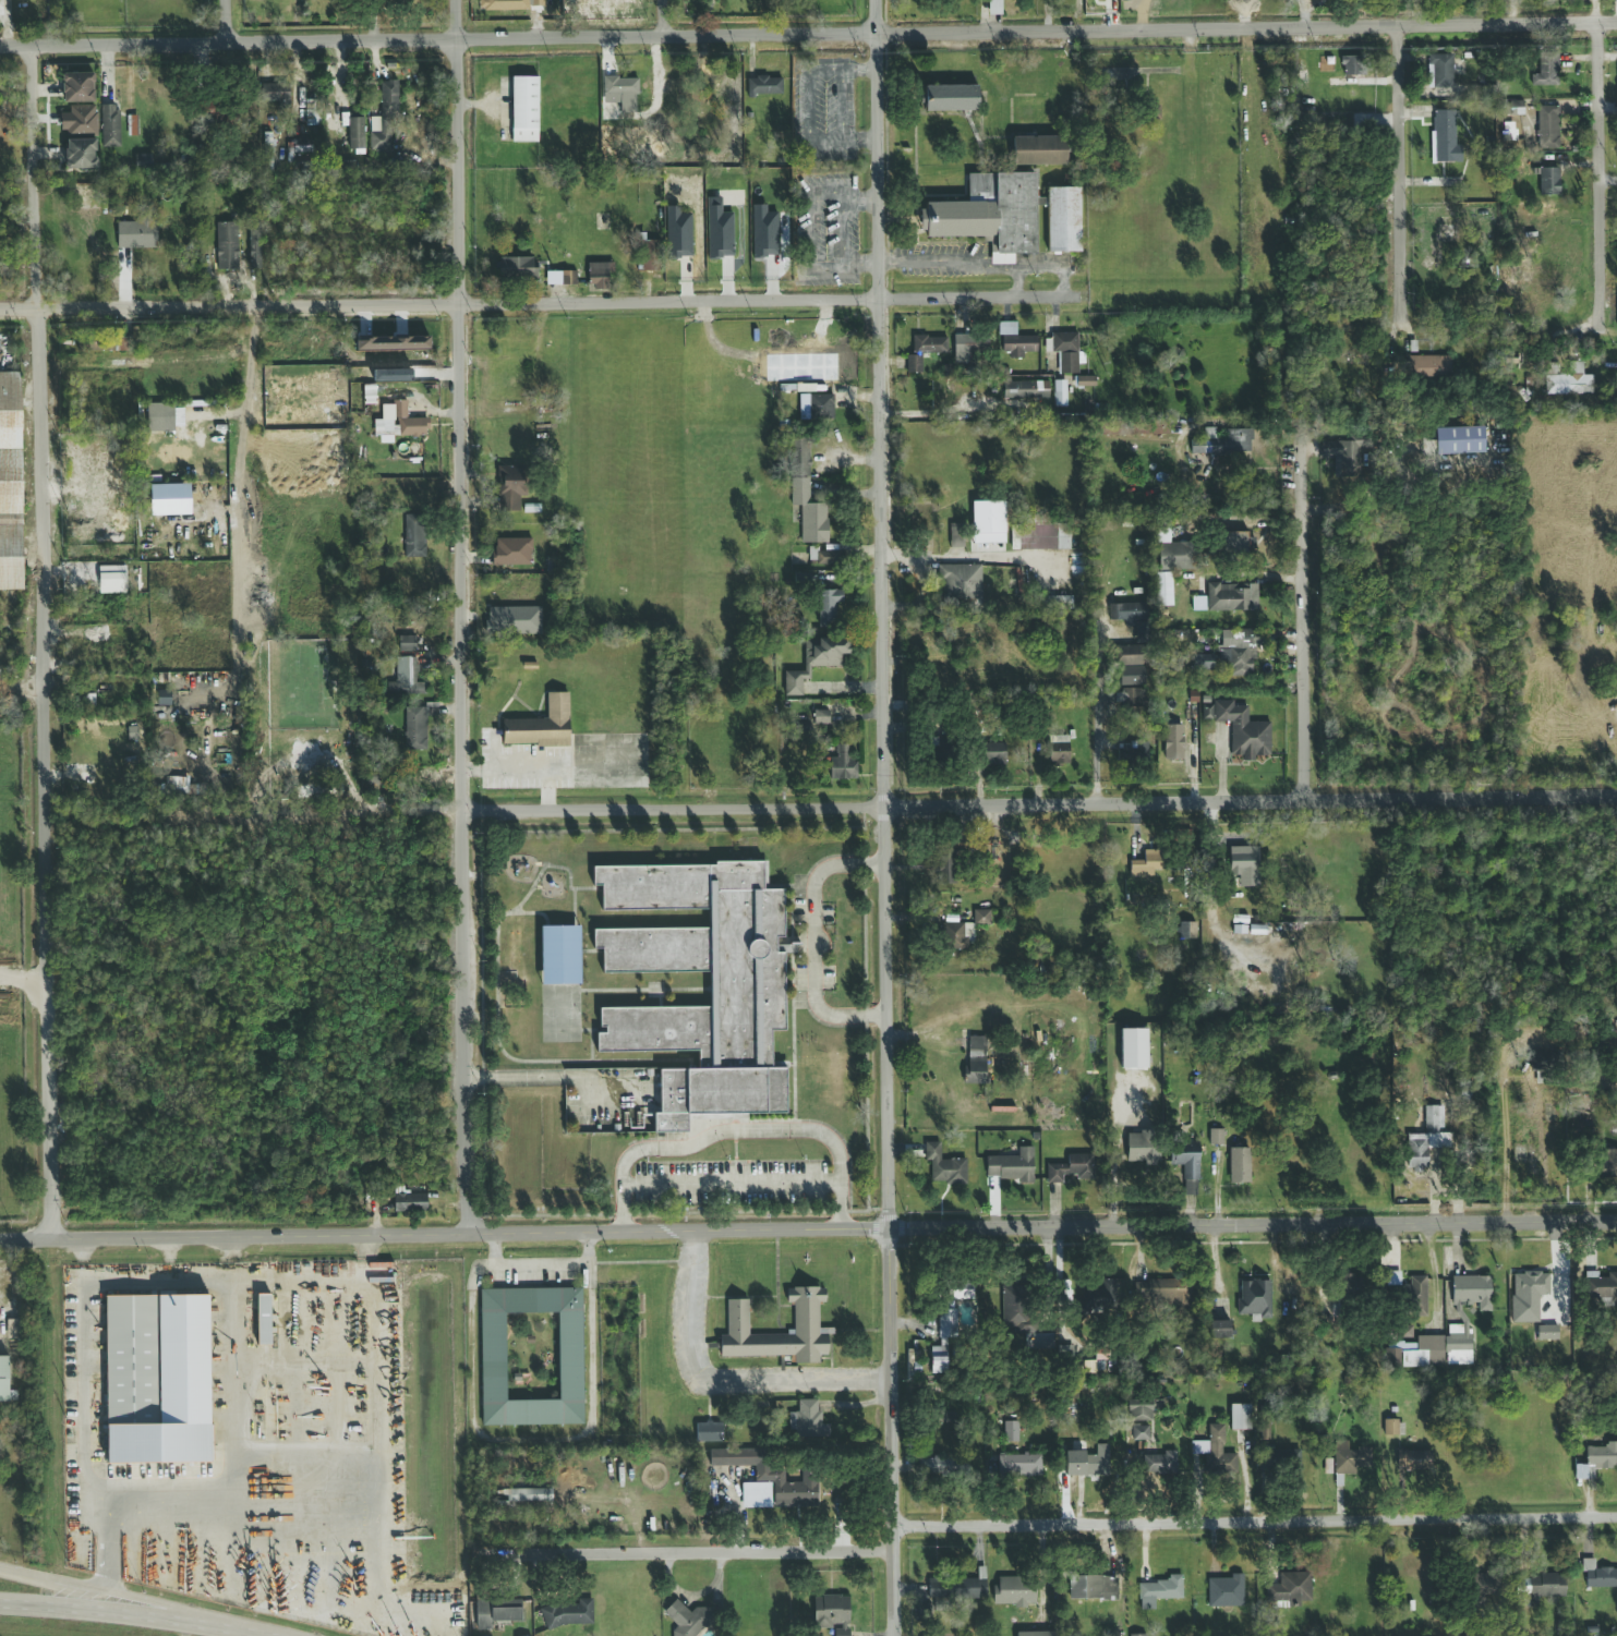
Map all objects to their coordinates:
building: (538, 2)
building: (503, 4)
building: (994, 7)
road: (666, 20)
road: (227, 24)
road: (808, 36)
building: (1350, 64)
building: (1545, 70)
building: (1440, 72)
building: (764, 85)
building: (668, 86)
building: (58, 87)
building: (77, 87)
building: (714, 88)
building: (620, 89)
building: (274, 93)
building: (949, 98)
building: (388, 99)
building: (524, 110)
building: (311, 113)
building: (145, 124)
building: (109, 126)
building: (1547, 128)
building: (355, 133)
building: (1445, 136)
building: (299, 147)
building: (267, 150)
building: (1037, 150)
building: (81, 154)
building: (207, 154)
building: (143, 161)
building: (205, 172)
building: (1548, 181)
road: (38, 183)
road: (1600, 191)
road: (1401, 204)
building: (988, 214)
building: (1062, 220)
building: (138, 231)
building: (254, 243)
building: (226, 246)
building: (648, 256)
road: (987, 262)
building: (517, 269)
building: (598, 275)
building: (560, 279)
road: (1016, 280)
road: (543, 306)
road: (1509, 334)
building: (504, 339)
building: (393, 342)
building: (1018, 343)
building: (102, 344)
building: (974, 346)
building: (924, 350)
building: (1065, 351)
building: (384, 353)
building: (1431, 367)
building: (1568, 379)
building: (1086, 381)
building: (363, 389)
building: (1026, 389)
building: (1059, 392)
building: (816, 408)
road: (927, 412)
building: (160, 417)
building: (407, 422)
building: (1459, 440)
building: (1223, 441)
building: (1344, 457)
building: (1208, 460)
road: (1303, 475)
building: (511, 481)
building: (11, 482)
road: (242, 484)
building: (169, 499)
building: (1198, 504)
building: (809, 507)
building: (988, 526)
building: (414, 533)
building: (1034, 535)
building: (957, 542)
building: (1232, 543)
building: (512, 552)
road: (905, 556)
road: (1003, 557)
building: (1190, 560)
building: (112, 580)
building: (958, 582)
building: (1163, 590)
building: (1234, 597)
building: (1194, 604)
building: (828, 606)
building: (1126, 611)
road: (464, 615)
building: (1571, 631)
building: (407, 643)
building: (1241, 653)
building: (1129, 656)
building: (817, 661)
building: (1202, 662)
road: (1305, 668)
building: (1132, 676)
building: (405, 677)
building: (518, 677)
building: (1134, 698)
building: (820, 717)
road: (1097, 718)
building: (927, 719)
building: (414, 728)
building: (1241, 729)
building: (535, 732)
building: (1173, 742)
building: (925, 743)
building: (1059, 751)
building: (1134, 752)
building: (990, 753)
building: (843, 763)
road: (44, 775)
road: (831, 809)
road: (882, 817)
building: (536, 849)
building: (1244, 862)
building: (1151, 863)
building: (948, 867)
building: (981, 918)
building: (1187, 931)
building: (954, 936)
road: (813, 940)
building: (560, 956)
road: (23, 983)
building: (747, 992)
building: (1133, 1050)
building: (977, 1061)
building: (1546, 1061)
road: (553, 1079)
building: (1586, 1117)
road: (735, 1130)
building: (1216, 1137)
building: (1426, 1140)
road: (1504, 1144)
building: (1143, 1148)
building: (854, 1162)
building: (1186, 1164)
building: (1609, 1164)
building: (943, 1165)
building: (1240, 1165)
building: (1011, 1166)
building: (1071, 1168)
road: (731, 1181)
building: (410, 1202)
road: (808, 1228)
road: (540, 1265)
building: (1392, 1278)
building: (1471, 1289)
building: (1347, 1293)
building: (1528, 1295)
building: (1100, 1296)
building: (1166, 1296)
building: (1413, 1297)
building: (1254, 1299)
building: (1019, 1309)
building: (805, 1318)
building: (949, 1318)
building: (264, 1320)
building: (12, 1329)
building: (1218, 1330)
building: (1405, 1332)
building: (1547, 1333)
building: (1460, 1348)
building: (1066, 1350)
building: (531, 1356)
building: (132, 1360)
building: (1088, 1367)
road: (720, 1379)
building: (4, 1380)
building: (1139, 1410)
building: (807, 1414)
building: (1240, 1418)
road: (377, 1420)
building: (1392, 1428)
building: (708, 1432)
building: (1011, 1432)
building: (1139, 1433)
building: (1216, 1452)
building: (1280, 1459)
building: (1350, 1459)
building: (1596, 1459)
building: (1415, 1461)
building: (1084, 1462)
building: (1162, 1464)
building: (1021, 1465)
building: (932, 1466)
building: (768, 1474)
building: (522, 1501)
road: (161, 1502)
road: (1255, 1522)
road: (104, 1550)
road: (689, 1553)
building: (1598, 1576)
building: (1538, 1587)
building: (1094, 1588)
building: (1290, 1588)
building: (1480, 1590)
building: (956, 1591)
building: (1015, 1591)
building: (1158, 1591)
building: (1226, 1591)
road: (113, 1600)
building: (496, 1612)
building: (921, 1612)
building: (566, 1613)
building: (831, 1613)
road: (132, 1616)
building: (689, 1620)
building: (1035, 1634)
building: (1135, 1635)

